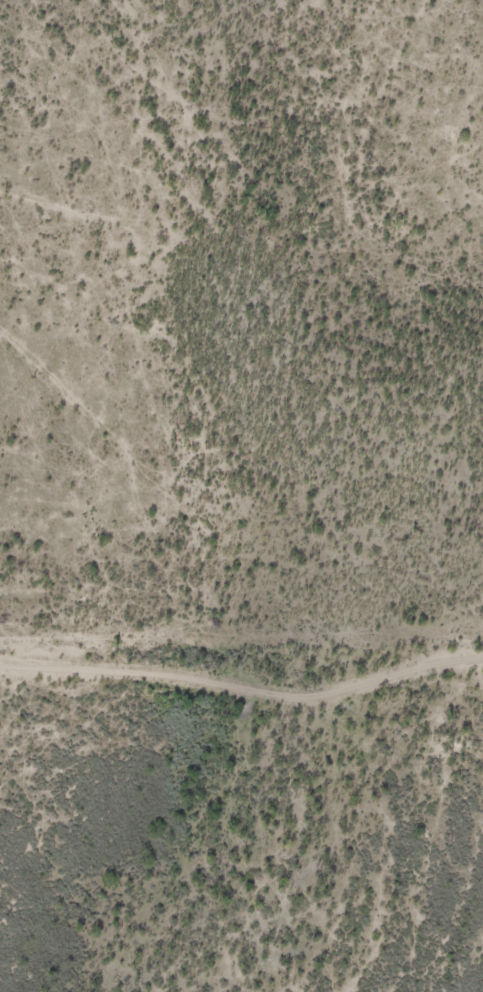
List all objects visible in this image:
road: (243, 687)

